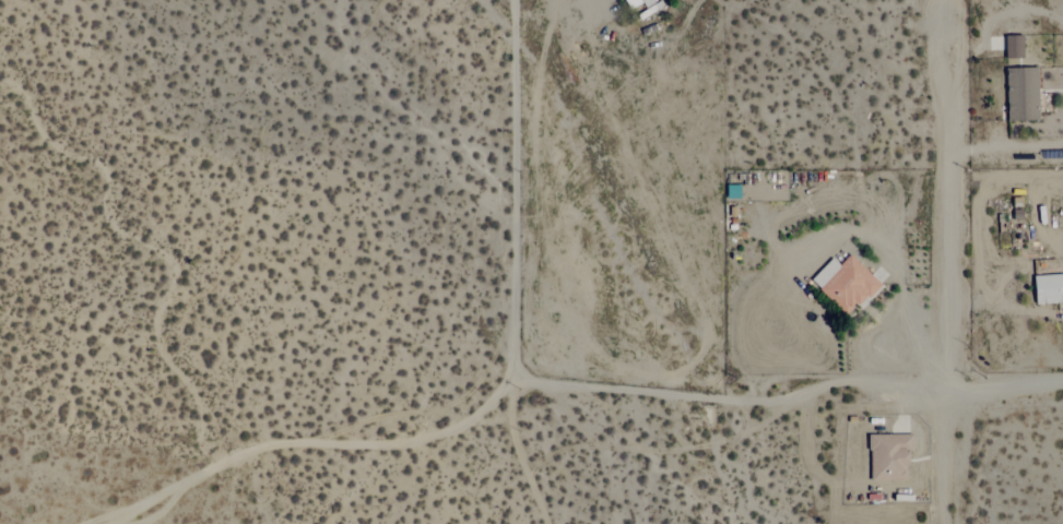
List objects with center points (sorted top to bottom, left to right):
building: (631, 2)
building: (1012, 46)
building: (1019, 94)
building: (842, 284)
building: (1047, 288)
road: (954, 388)
building: (886, 456)

